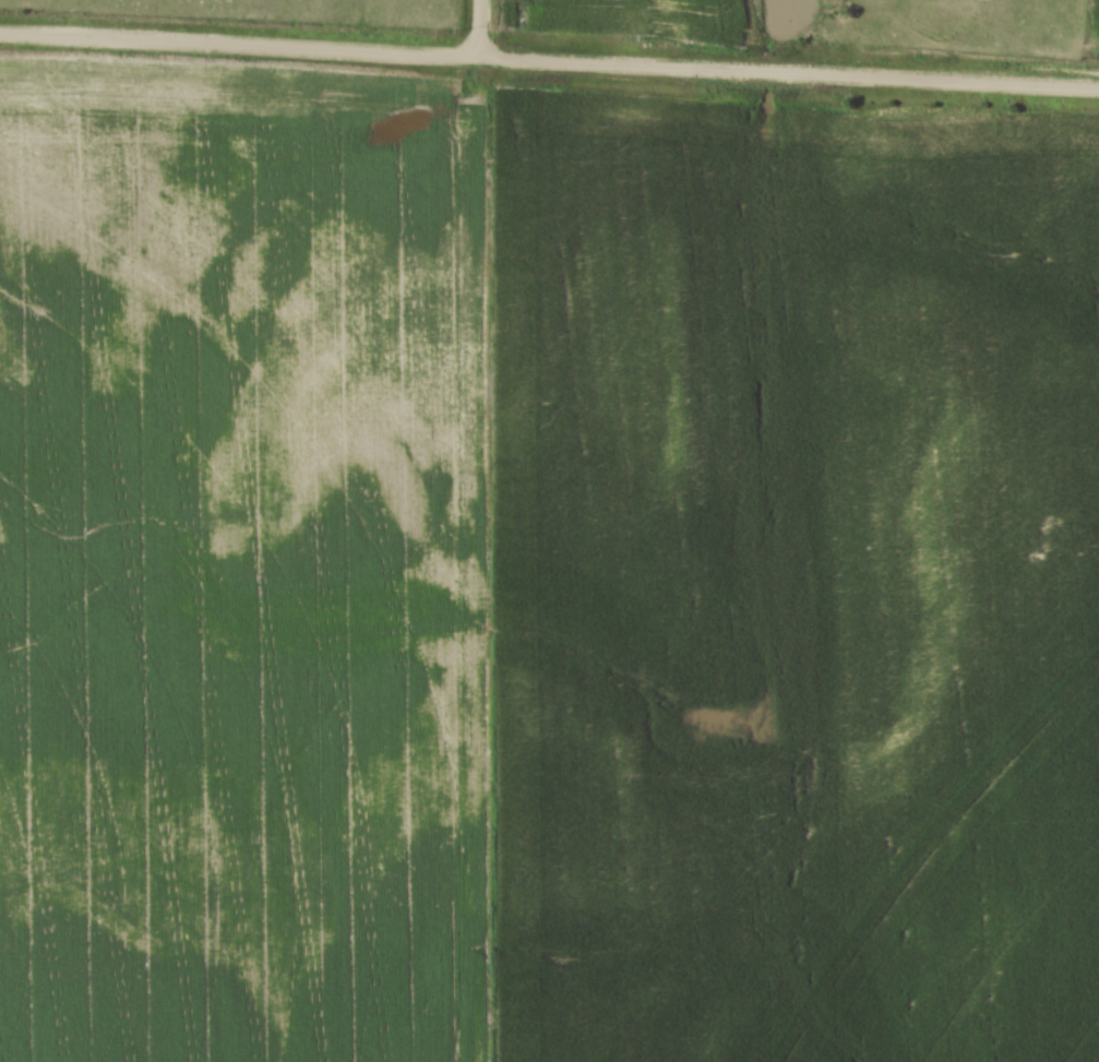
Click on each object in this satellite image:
road: (482, 28)
road: (549, 60)

